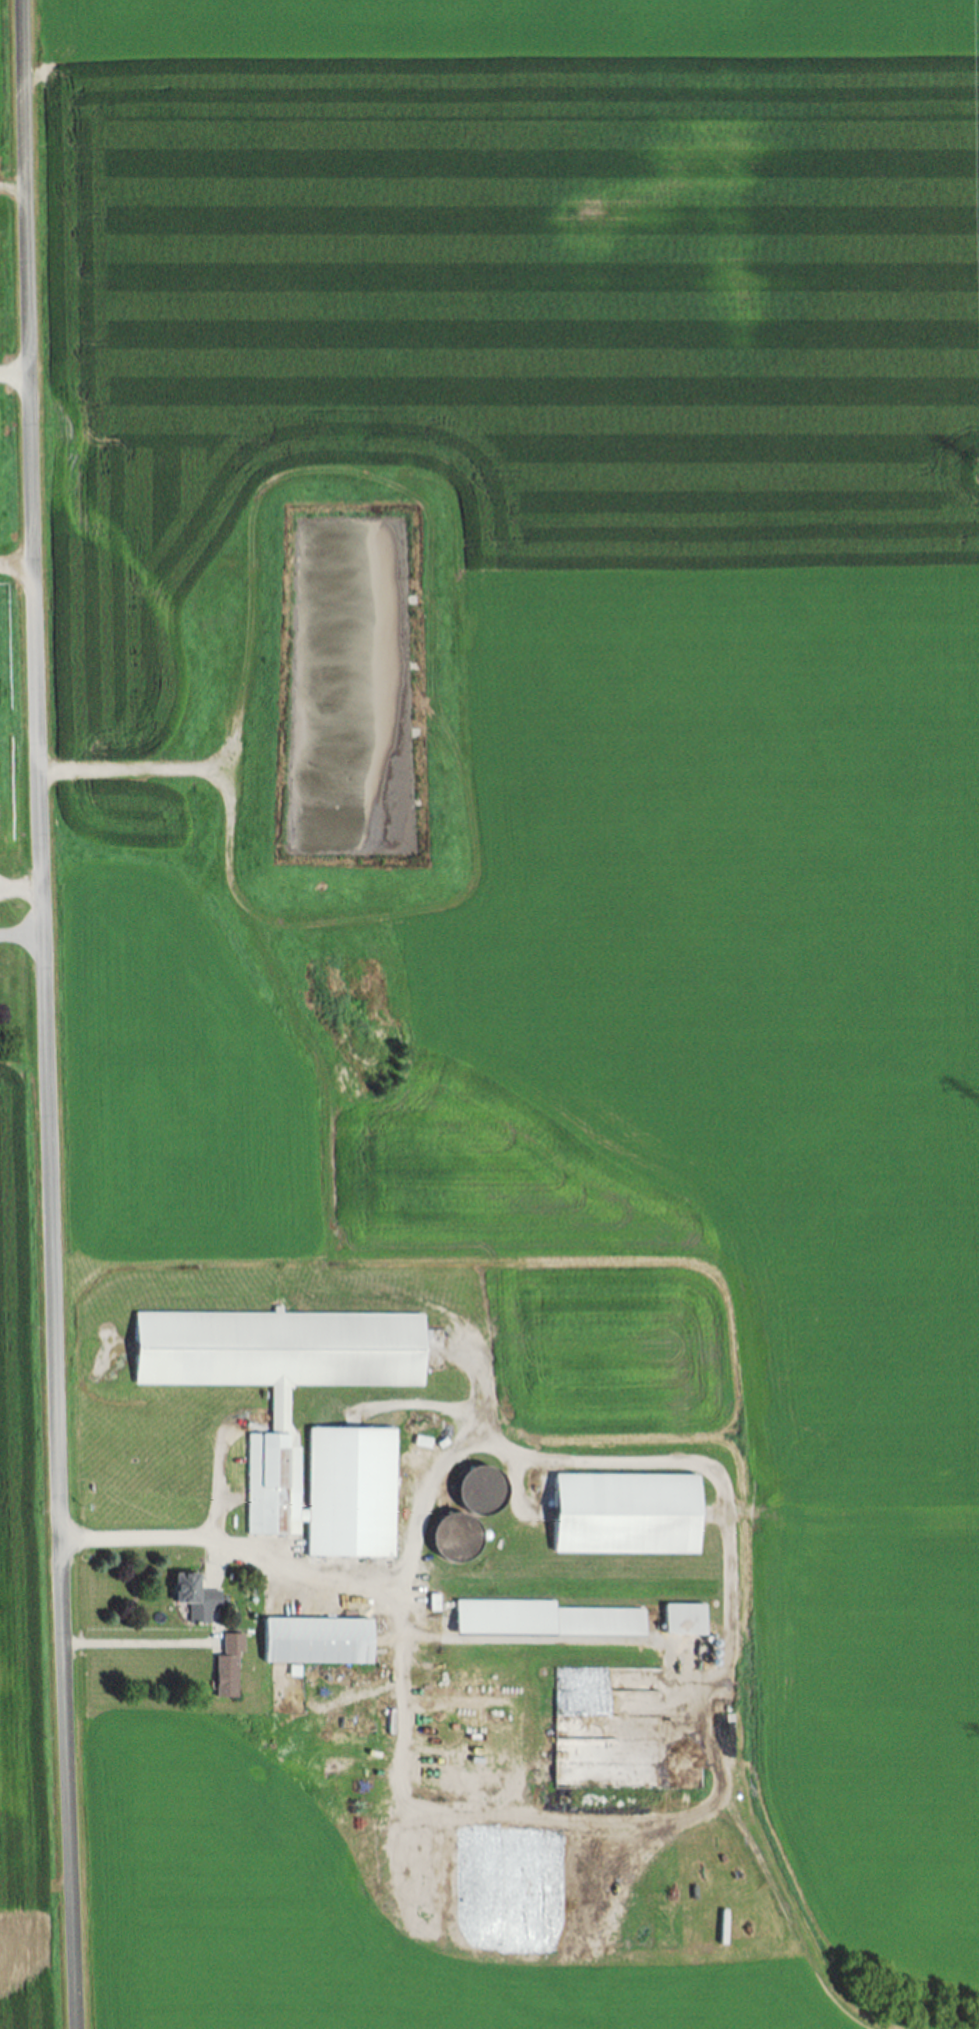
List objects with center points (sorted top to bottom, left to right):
road: (14, 376)
road: (17, 570)
road: (20, 889)
road: (21, 935)
road: (44, 1014)
building: (287, 1431)
road: (218, 1479)
building: (633, 1515)
road: (728, 1530)
building: (200, 1598)
building: (437, 1603)
building: (548, 1620)
building: (687, 1620)
building: (320, 1642)
road: (136, 1644)
building: (232, 1668)
road: (400, 1760)

